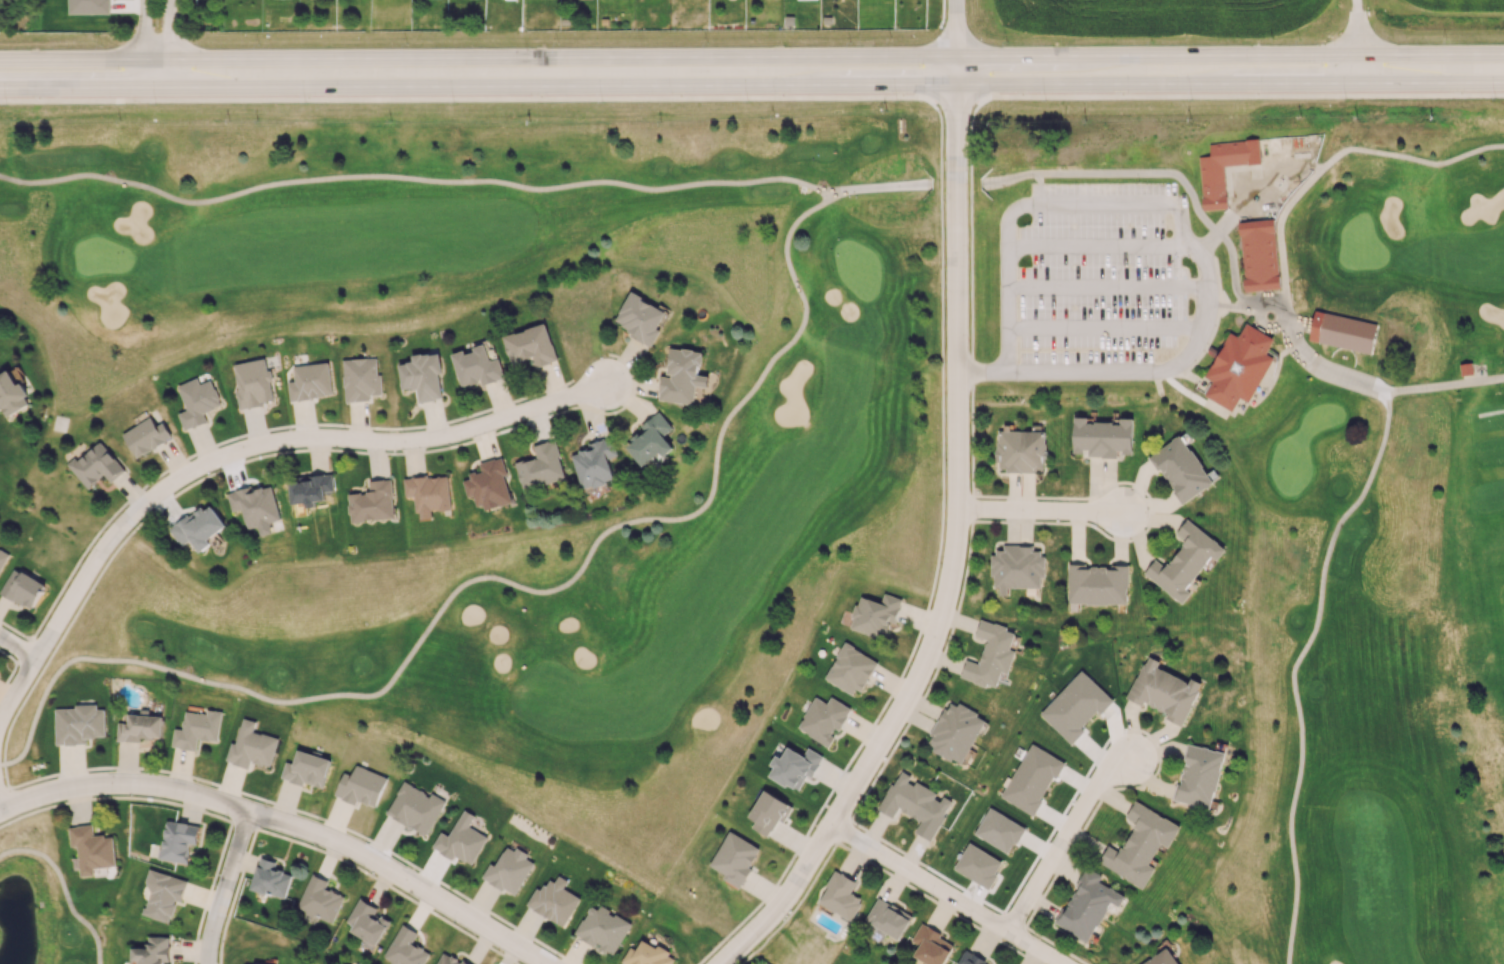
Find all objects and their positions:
road: (1358, 27)
road: (955, 28)
road: (146, 45)
road: (170, 45)
road: (1230, 55)
road: (551, 57)
road: (73, 60)
road: (1360, 69)
road: (1230, 83)
road: (557, 86)
road: (79, 88)
road: (1230, 97)
road: (478, 99)
road: (1273, 158)
road: (1411, 159)
road: (1298, 165)
road: (1166, 173)
road: (414, 178)
road: (879, 186)
building: (1213, 186)
road: (1239, 187)
road: (1257, 188)
building: (801, 190)
road: (1116, 204)
road: (1247, 211)
road: (1219, 230)
road: (1280, 232)
building: (1258, 255)
parking lot: (1099, 280)
road: (1007, 300)
building: (642, 318)
road: (1274, 327)
building: (1315, 327)
building: (530, 345)
building: (476, 365)
building: (1238, 368)
building: (1465, 368)
road: (1324, 371)
road: (1154, 373)
road: (982, 374)
building: (422, 375)
building: (681, 376)
building: (360, 378)
building: (703, 380)
building: (310, 381)
building: (253, 383)
road: (1445, 386)
building: (11, 394)
building: (196, 402)
building: (146, 436)
building: (1102, 437)
building: (653, 438)
park: (848, 444)
building: (1021, 450)
road: (243, 453)
building: (595, 463)
building: (96, 465)
building: (541, 466)
building: (1181, 469)
building: (489, 484)
building: (311, 488)
building: (429, 493)
building: (373, 502)
building: (255, 505)
road: (1042, 511)
building: (198, 527)
road: (952, 545)
building: (2, 557)
building: (1185, 561)
building: (1017, 567)
road: (492, 577)
building: (1098, 584)
building: (22, 588)
building: (875, 615)
road: (19, 644)
building: (991, 654)
road: (1294, 668)
building: (850, 669)
building: (1164, 691)
building: (1075, 706)
building: (823, 719)
building: (78, 724)
building: (139, 726)
building: (196, 729)
building: (956, 732)
building: (251, 745)
building: (794, 766)
building: (307, 769)
building: (1199, 776)
building: (1031, 779)
building: (360, 786)
road: (2, 801)
building: (916, 804)
building: (415, 807)
building: (768, 812)
road: (285, 823)
building: (999, 830)
road: (1064, 837)
building: (178, 840)
building: (461, 840)
building: (1140, 845)
building: (92, 848)
road: (6, 854)
building: (735, 858)
building: (978, 865)
building: (508, 870)
building: (270, 879)
road: (229, 887)
road: (66, 895)
building: (163, 895)
building: (841, 895)
road: (944, 896)
park: (42, 900)
building: (319, 900)
building: (553, 901)
building: (1087, 904)
building: (888, 918)
building: (367, 922)
building: (602, 929)
building: (931, 945)
building: (405, 948)
building: (153, 951)
building: (647, 955)
building: (1162, 958)
building: (448, 959)
building: (970, 959)
building: (255, 963)

